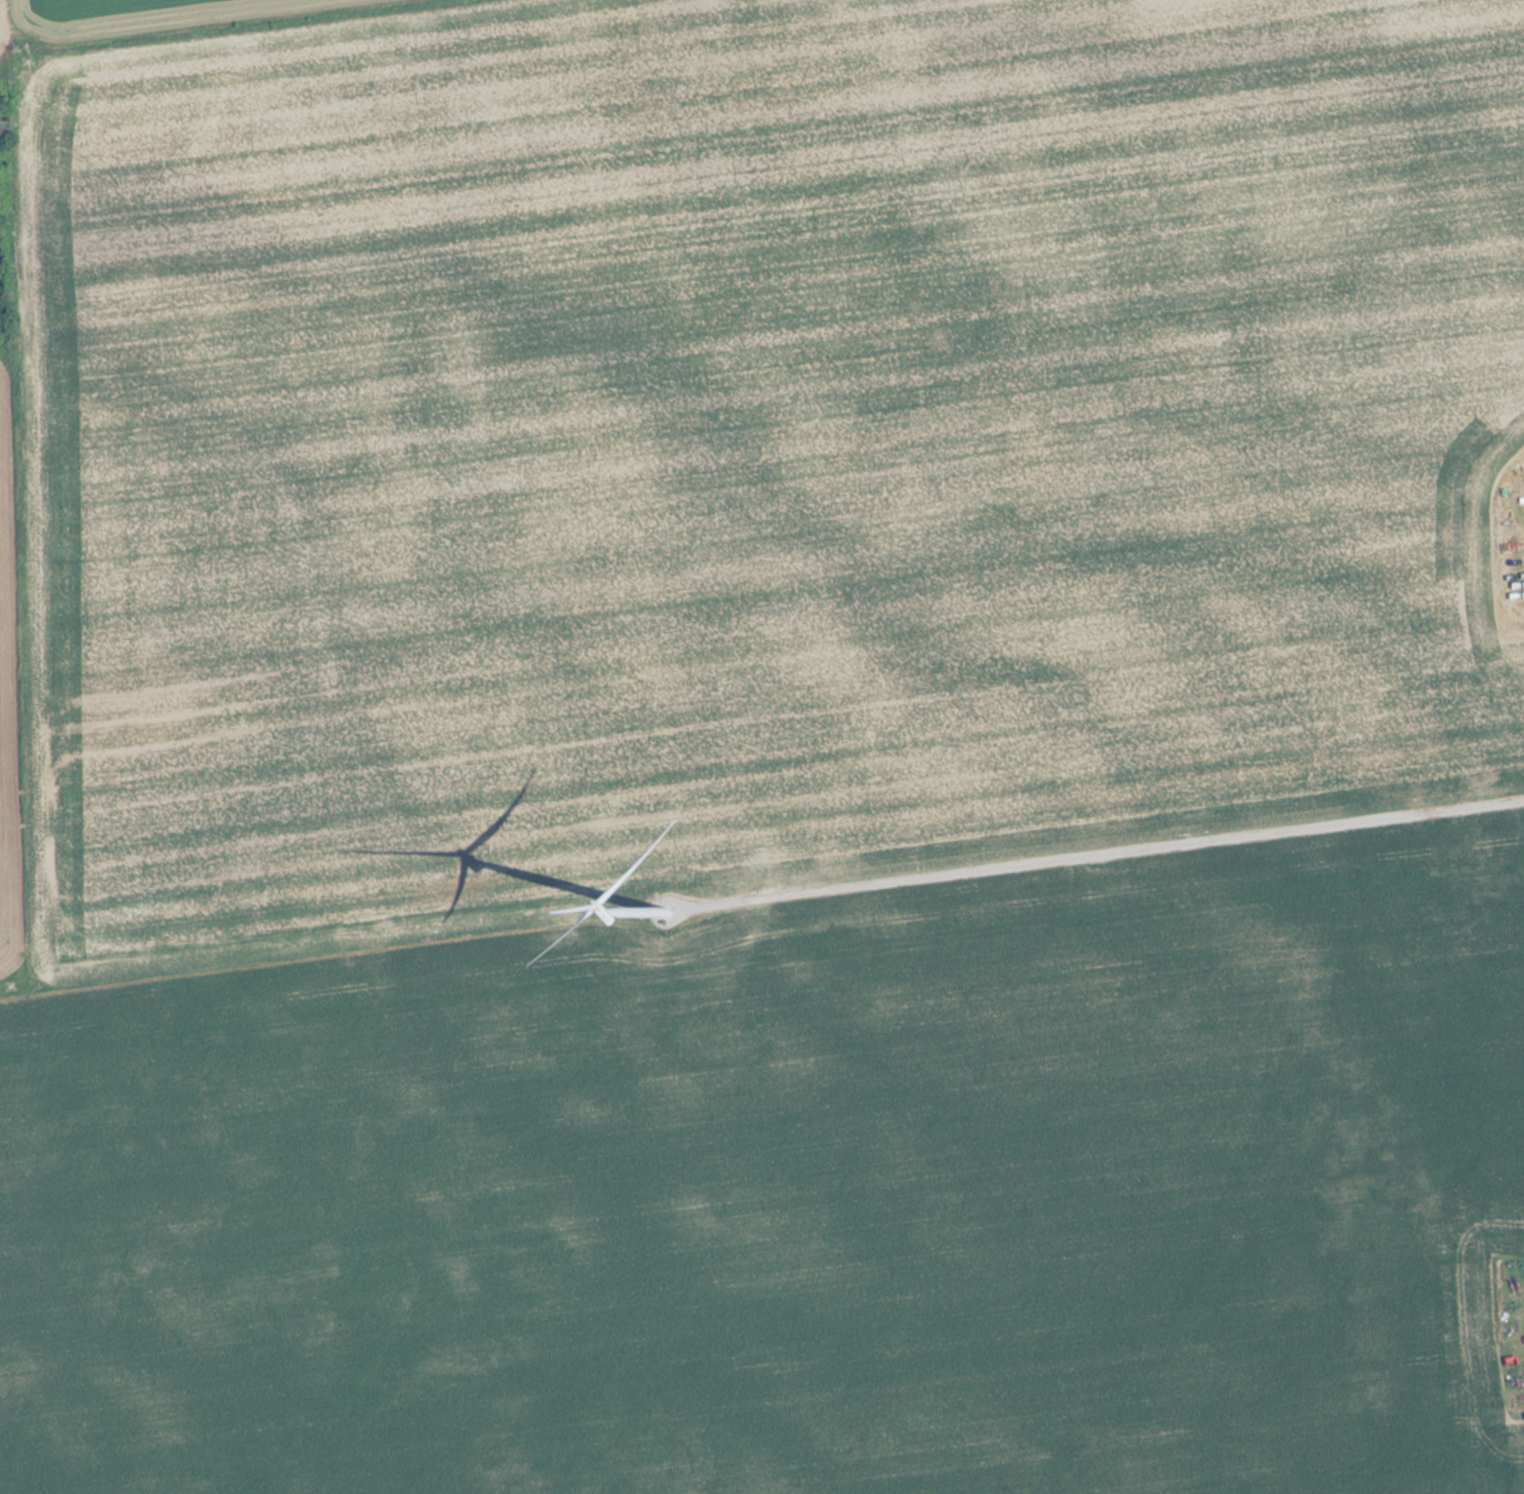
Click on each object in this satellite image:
wind turbine: (668, 904)

